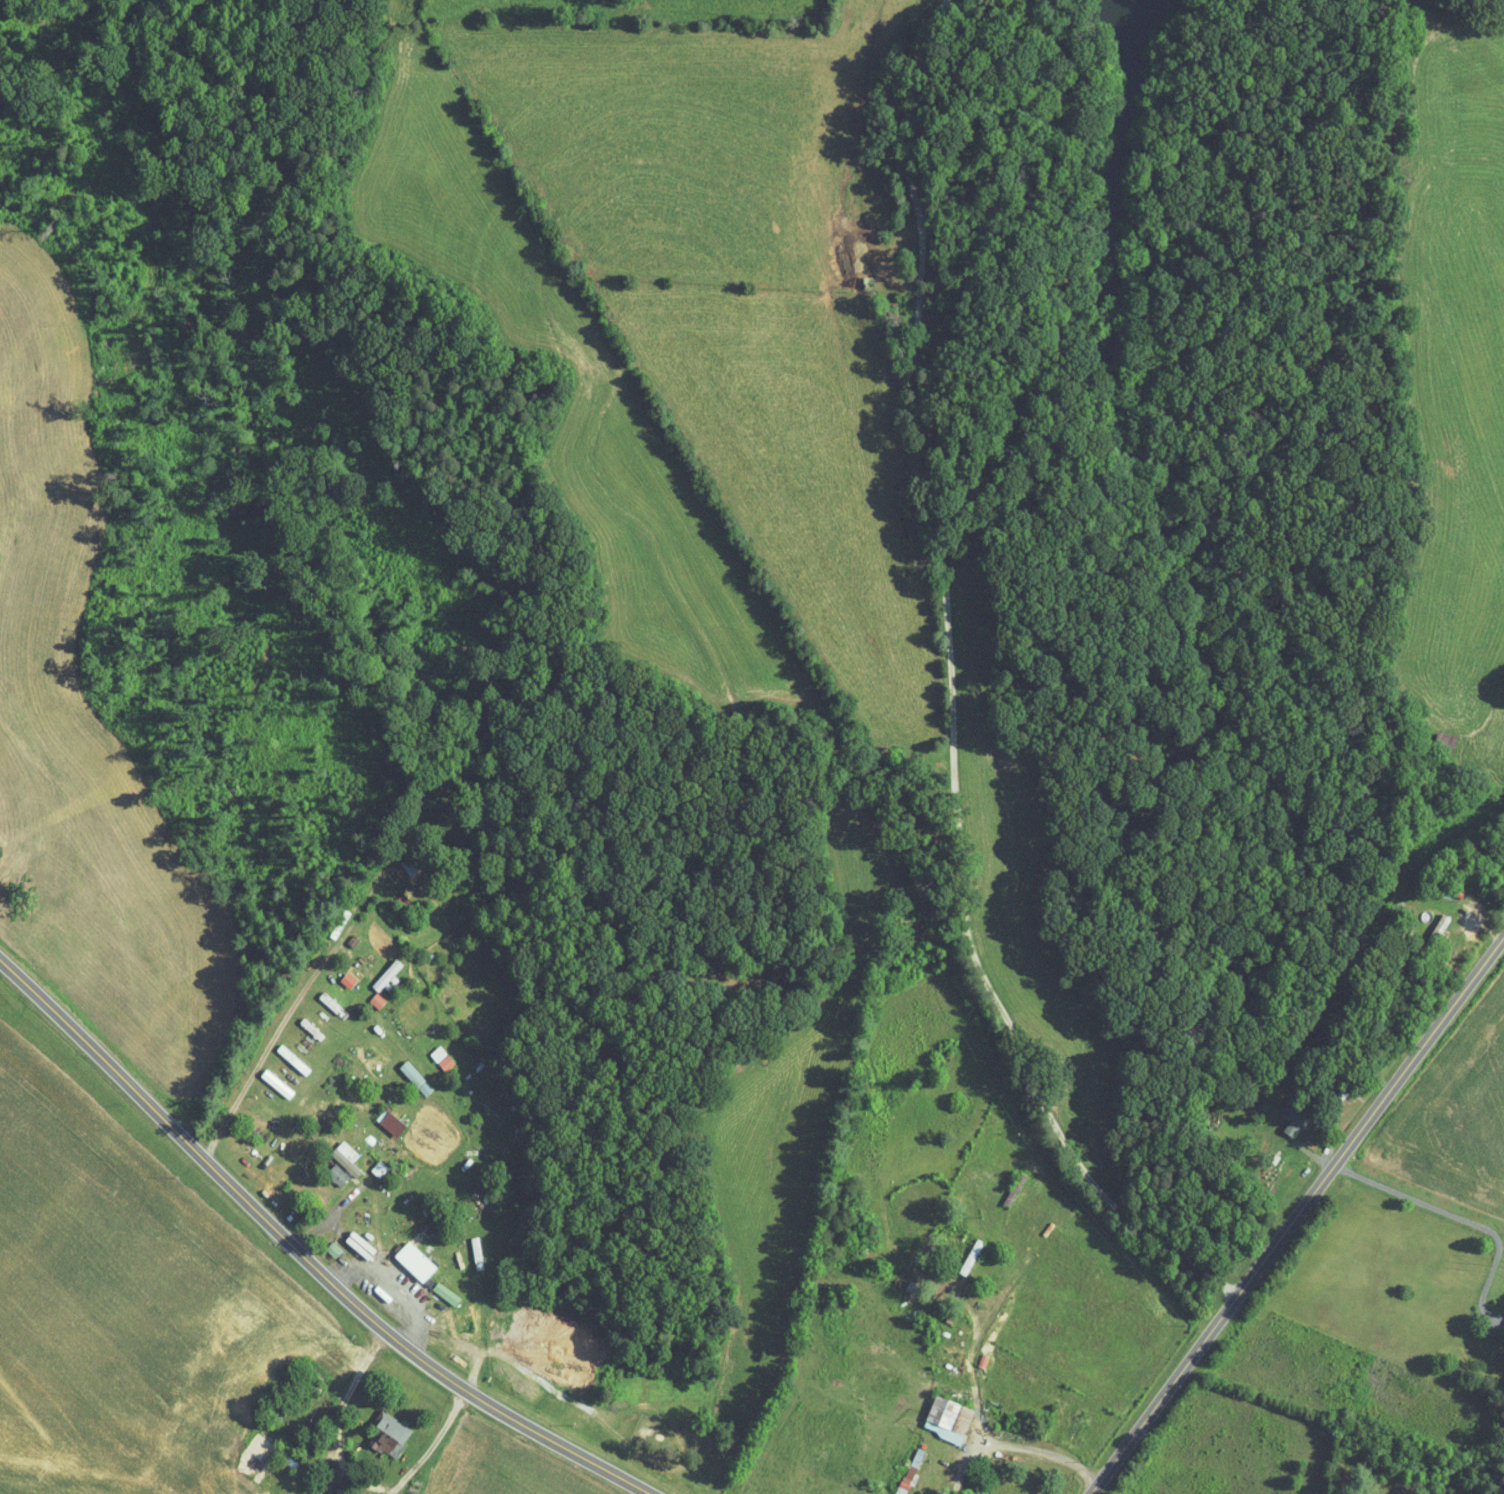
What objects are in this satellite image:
road: (949, 692)
road: (1491, 907)
building: (1436, 930)
road: (1471, 937)
road: (304, 955)
road: (907, 975)
building: (388, 976)
building: (349, 980)
road: (318, 992)
building: (332, 1004)
road: (301, 1020)
building: (312, 1028)
road: (284, 1049)
road: (265, 1052)
building: (443, 1057)
building: (294, 1059)
building: (416, 1078)
building: (278, 1083)
road: (1360, 1101)
road: (249, 1105)
building: (1294, 1119)
building: (392, 1122)
road: (1041, 1140)
road: (1305, 1146)
building: (348, 1158)
building: (380, 1168)
road: (317, 1214)
road: (1297, 1215)
road: (1405, 1244)
building: (972, 1255)
road: (302, 1256)
building: (418, 1262)
building: (447, 1293)
road: (371, 1314)
road: (356, 1386)
building: (950, 1418)
building: (389, 1434)
road: (988, 1442)
road: (432, 1444)
road: (1078, 1467)
building: (911, 1470)
building: (334, 1485)

